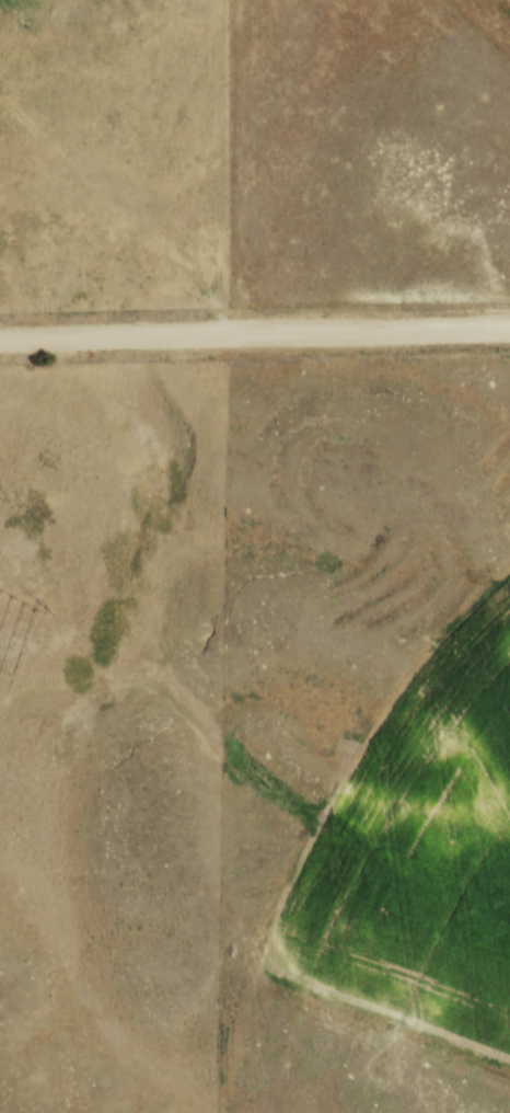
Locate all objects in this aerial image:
crop: (505, 3)
road: (255, 339)
crop: (415, 853)

